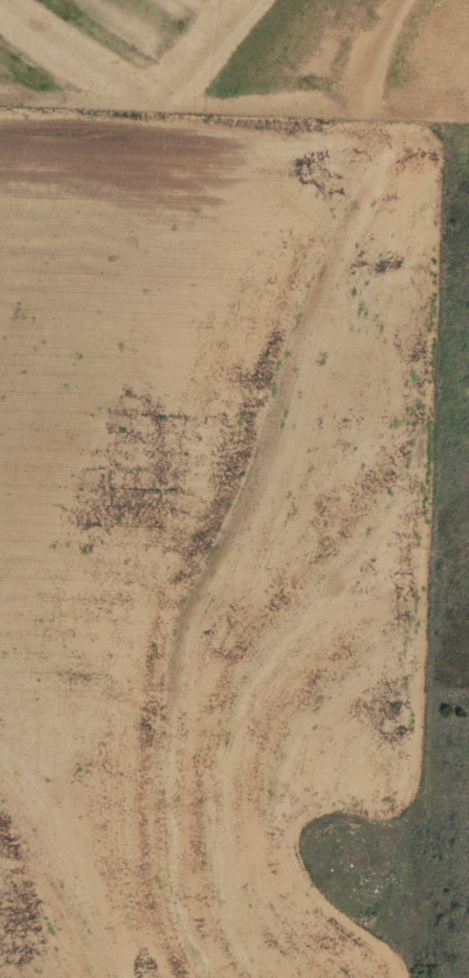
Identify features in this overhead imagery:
road: (440, 958)

